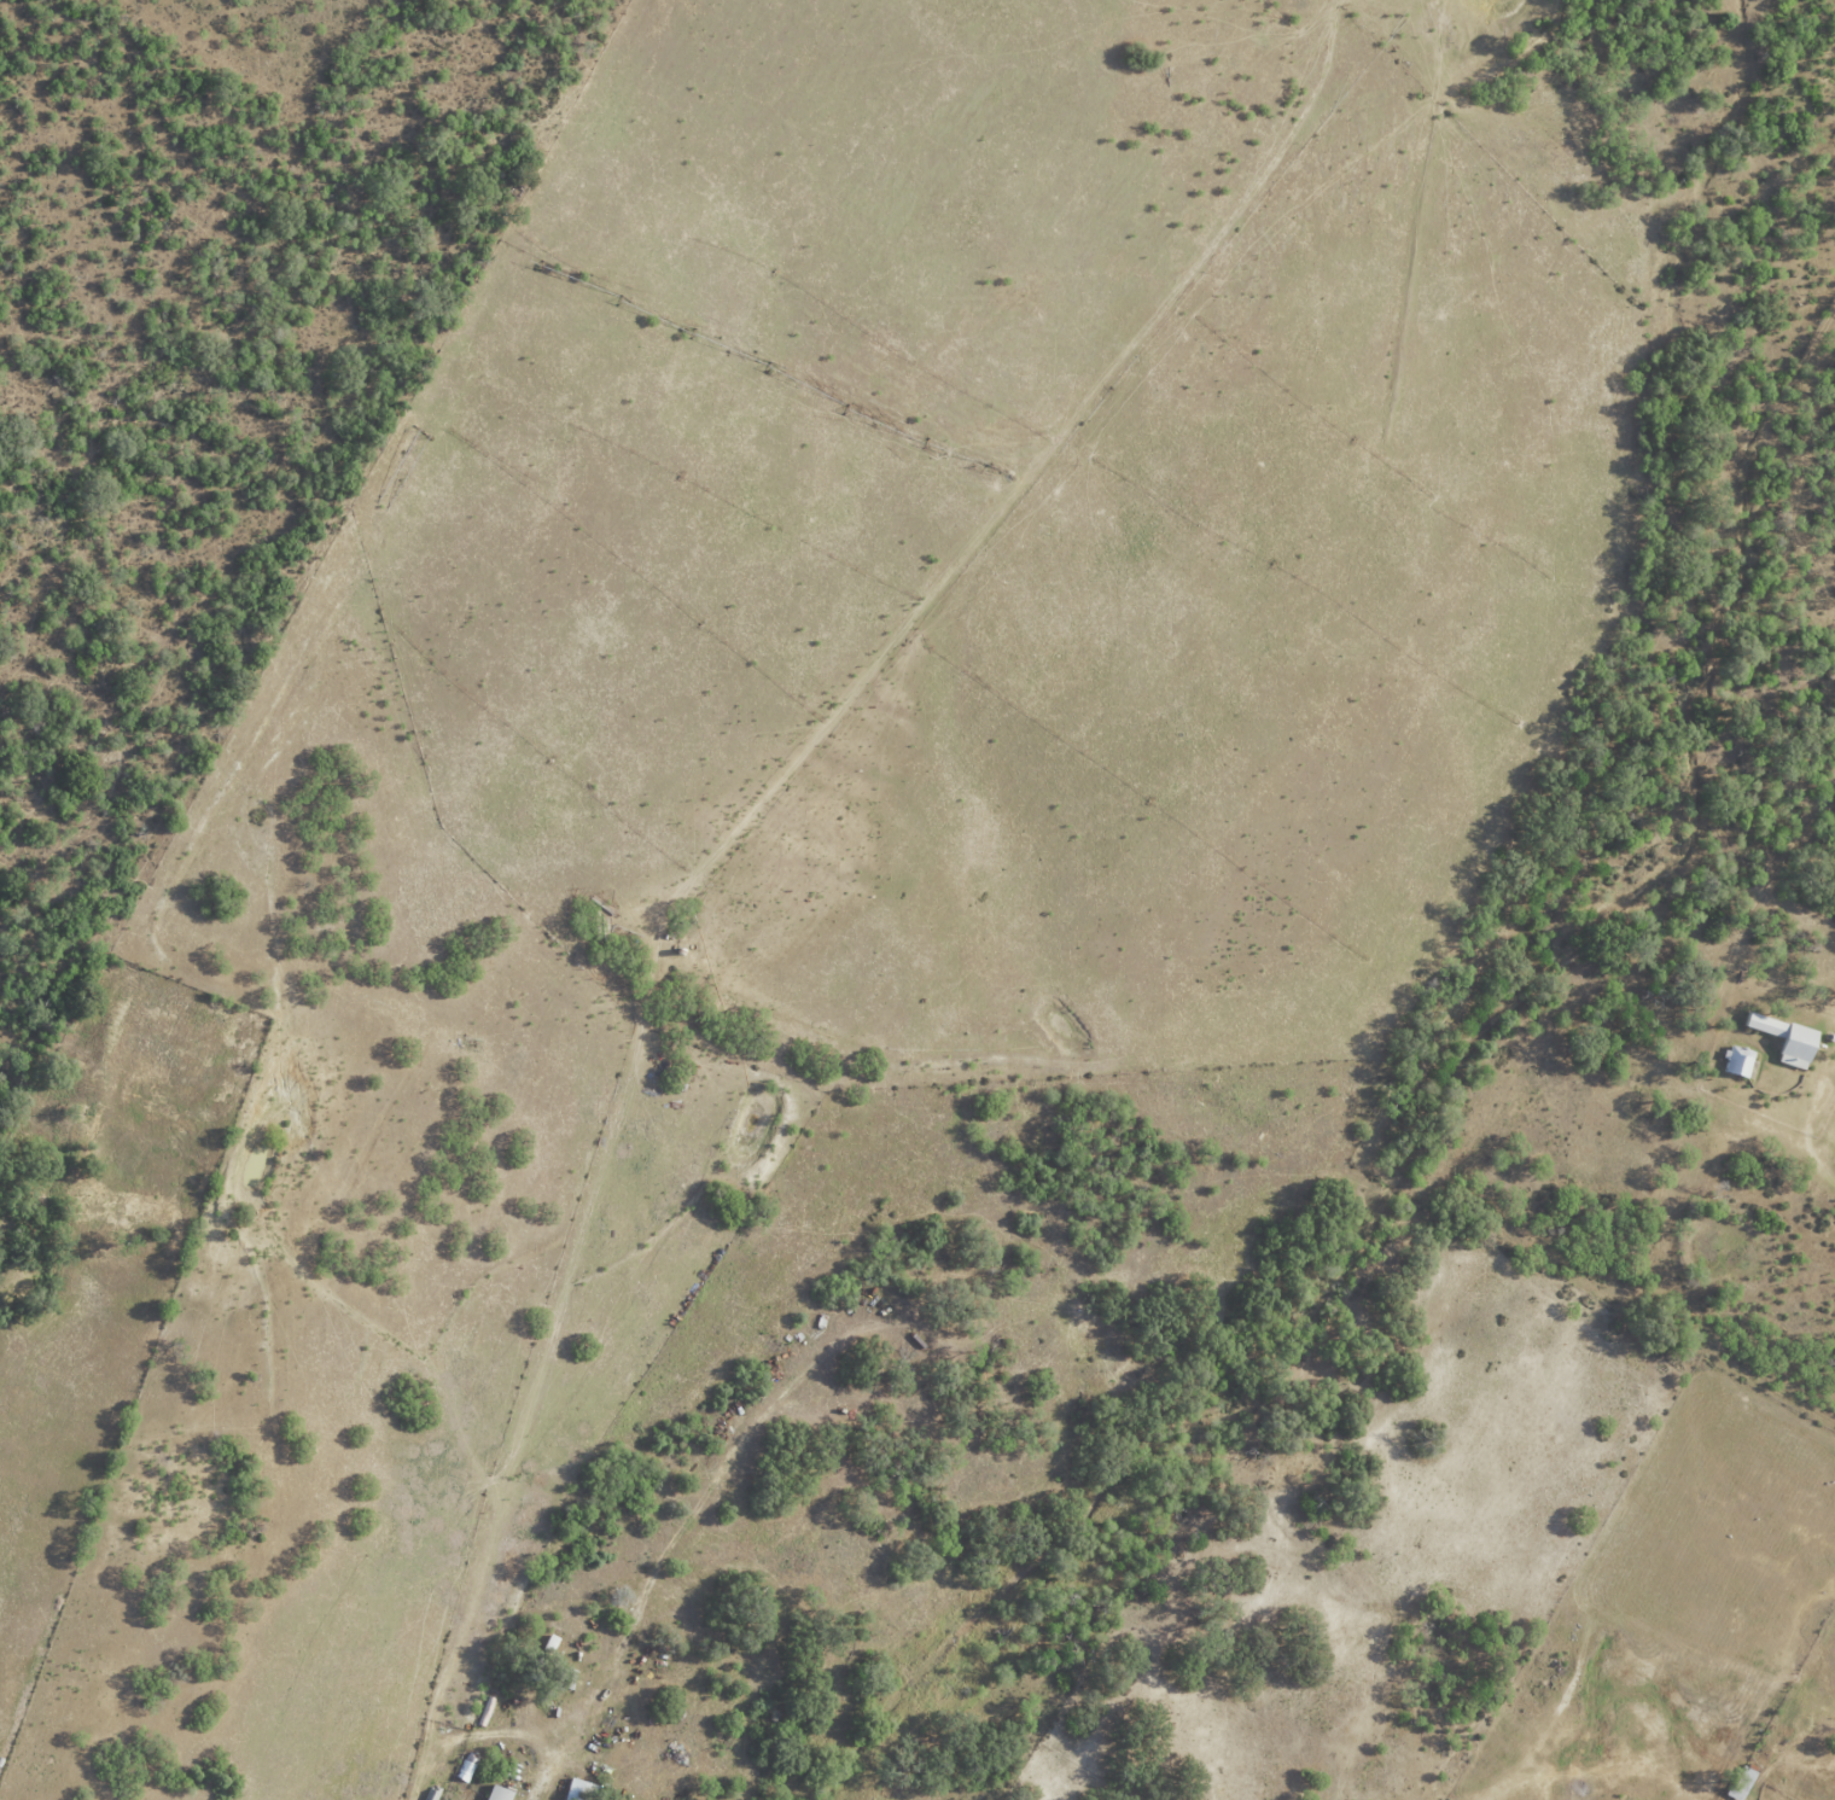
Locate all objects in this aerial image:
building: (1792, 1039)
building: (1741, 1061)
road: (1816, 1138)
road: (296, 1703)
road: (462, 1740)
building: (1744, 1783)
building: (584, 1789)
building: (502, 1793)

